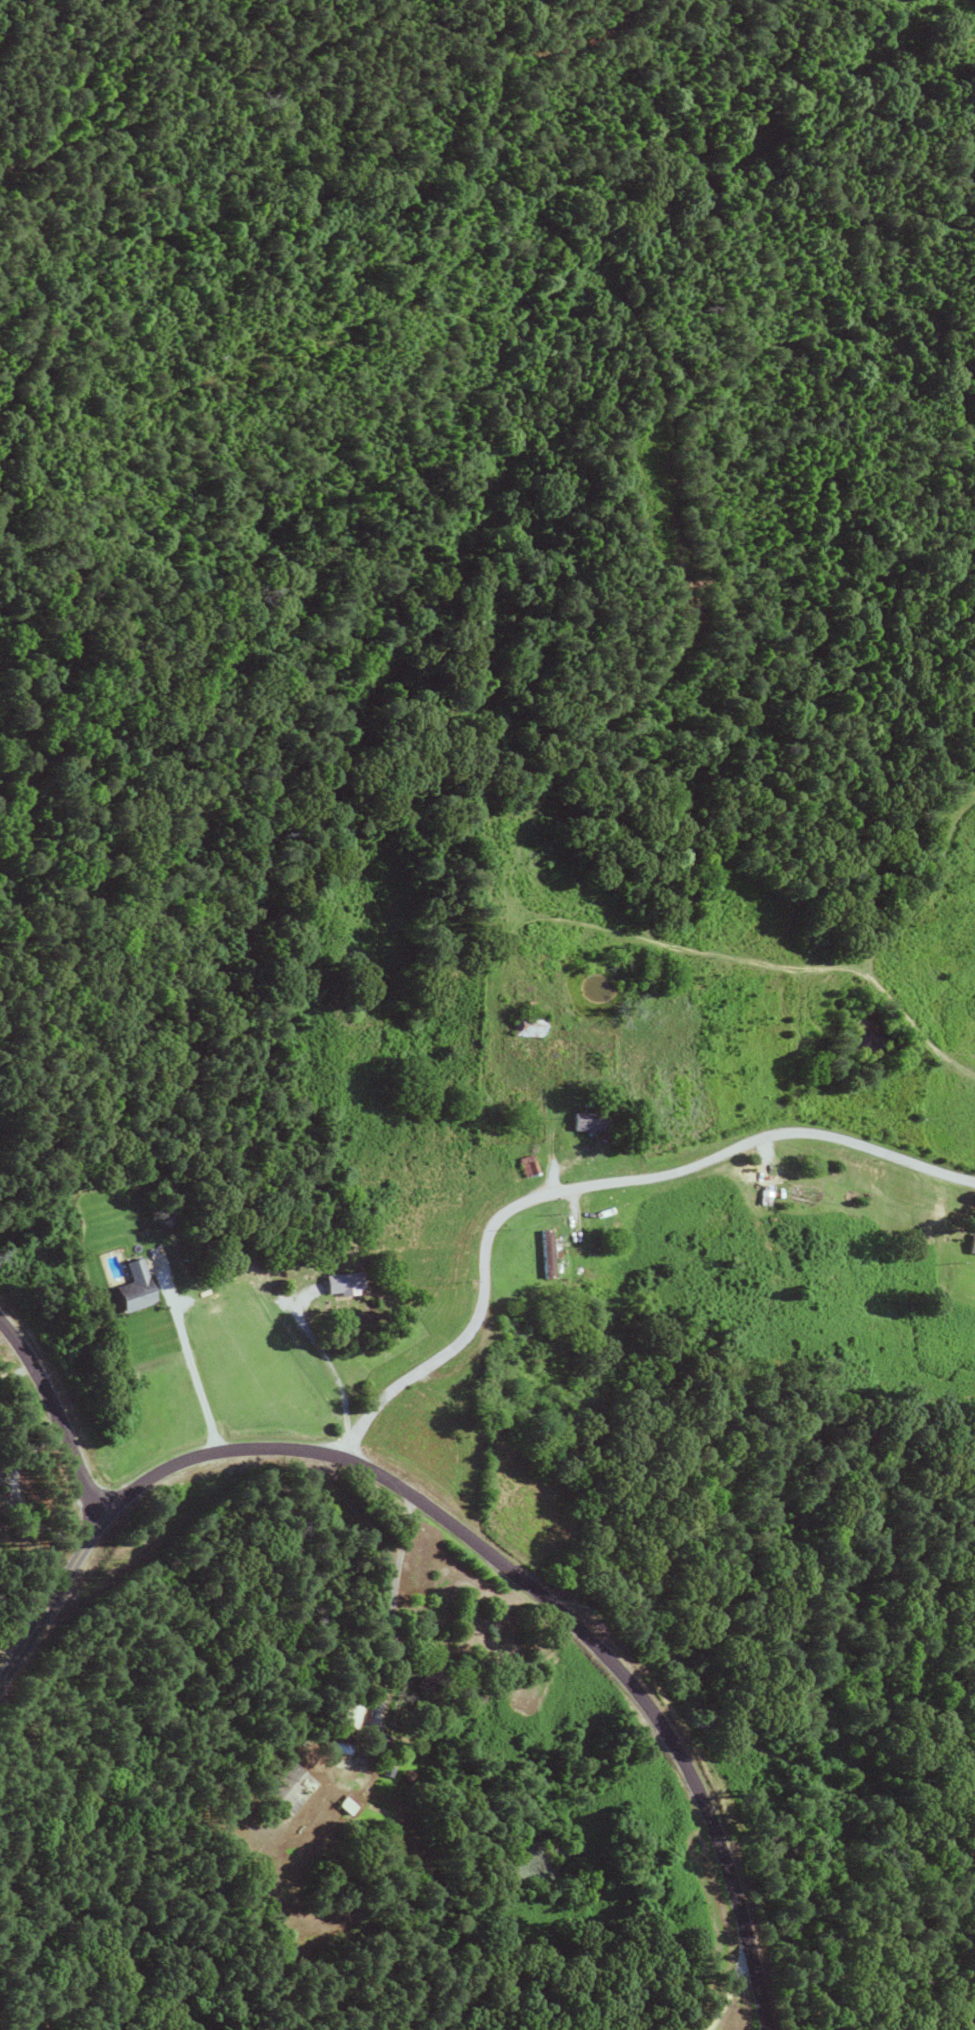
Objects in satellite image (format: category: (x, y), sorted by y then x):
building: (524, 1026)
building: (585, 1122)
road: (597, 1187)
building: (797, 1192)
building: (969, 1245)
building: (545, 1254)
building: (340, 1283)
building: (130, 1288)
building: (518, 1327)
road: (49, 1400)
road: (394, 1575)
road: (53, 1583)
road: (542, 1596)
building: (424, 1675)
building: (348, 1715)
building: (282, 1786)
road: (728, 1992)

